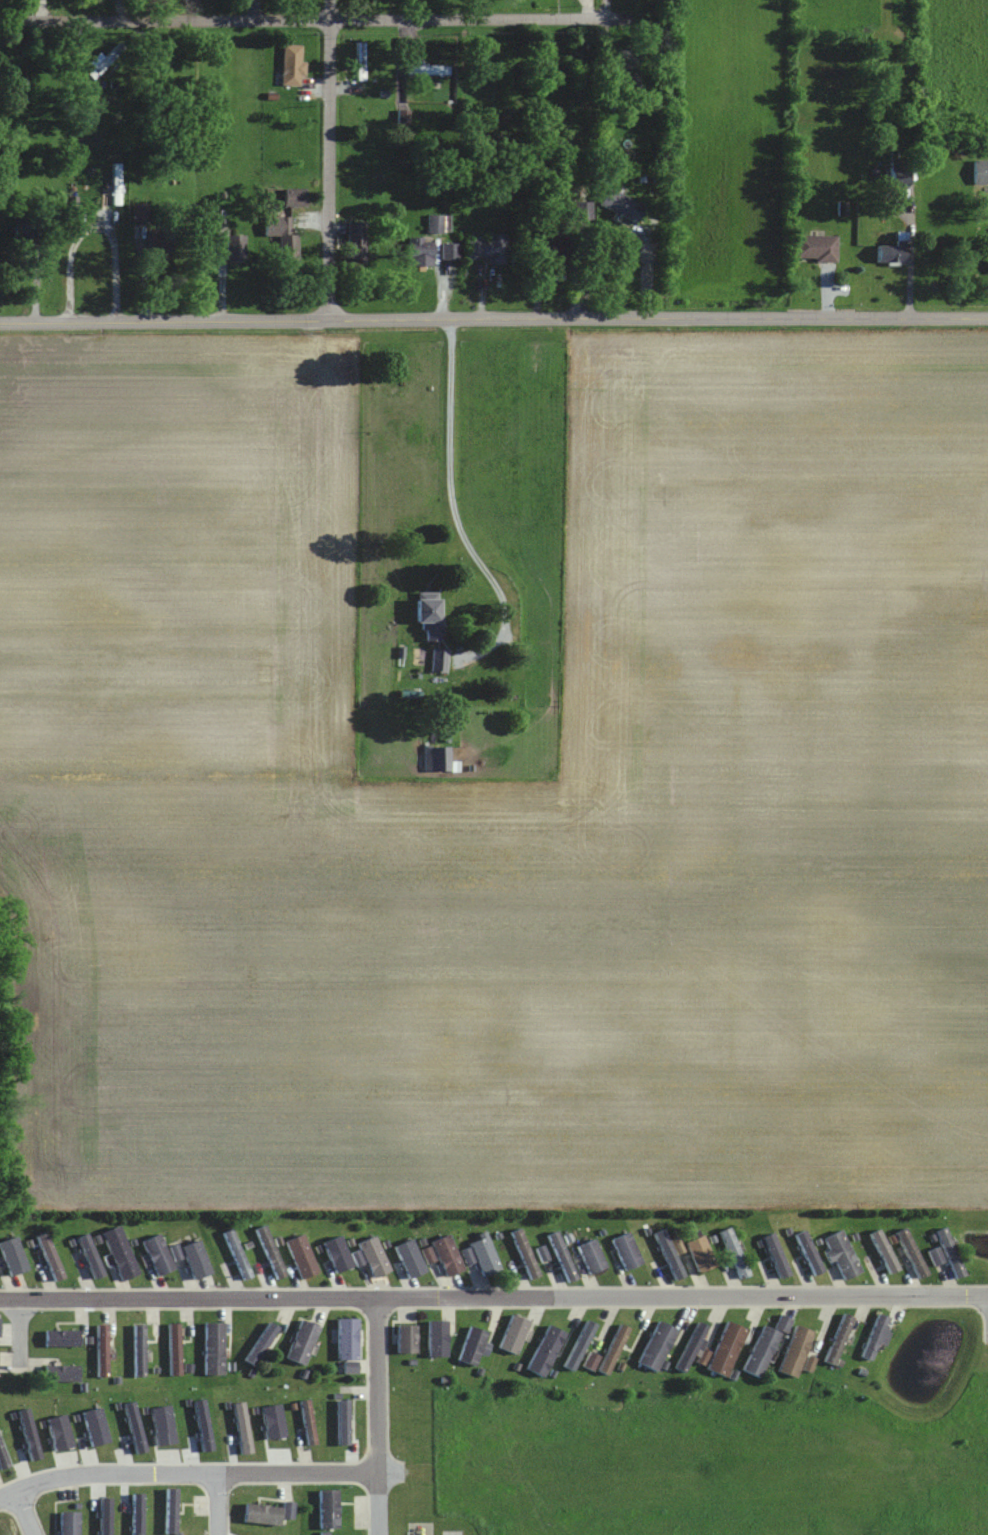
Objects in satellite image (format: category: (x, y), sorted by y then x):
road: (607, 10)
road: (318, 20)
building: (625, 59)
building: (104, 60)
building: (360, 61)
building: (292, 65)
building: (429, 69)
building: (629, 81)
road: (329, 160)
building: (980, 171)
building: (900, 174)
building: (116, 184)
building: (295, 196)
building: (622, 204)
building: (141, 212)
building: (439, 223)
road: (93, 229)
building: (26, 235)
building: (283, 236)
building: (356, 241)
building: (160, 246)
building: (236, 247)
building: (557, 247)
building: (488, 248)
building: (817, 248)
building: (421, 250)
building: (451, 250)
building: (895, 250)
road: (493, 319)
road: (448, 484)
building: (429, 617)
building: (440, 660)
building: (437, 759)
building: (878, 1251)
building: (627, 1252)
building: (120, 1253)
building: (734, 1253)
building: (911, 1253)
building: (950, 1253)
building: (338, 1254)
building: (700, 1254)
building: (840, 1254)
building: (158, 1255)
building: (237, 1255)
building: (525, 1255)
building: (13, 1256)
building: (447, 1256)
building: (485, 1256)
building: (935, 1256)
building: (302, 1257)
building: (374, 1257)
building: (562, 1257)
building: (50, 1258)
building: (409, 1258)
building: (591, 1258)
road: (493, 1297)
road: (20, 1332)
building: (514, 1335)
building: (874, 1337)
building: (61, 1339)
building: (837, 1339)
building: (407, 1340)
building: (437, 1340)
building: (302, 1343)
building: (348, 1344)
building: (474, 1347)
building: (657, 1347)
building: (691, 1348)
building: (174, 1349)
building: (213, 1349)
building: (138, 1350)
building: (613, 1350)
building: (726, 1350)
building: (102, 1351)
building: (545, 1352)
building: (761, 1352)
building: (795, 1352)
building: (591, 1362)
building: (61, 1373)
road: (378, 1416)
building: (307, 1423)
building: (3, 1459)
road: (186, 1473)
road: (217, 1504)
building: (328, 1509)
road: (25, 1513)
building: (266, 1514)
building: (69, 1523)

